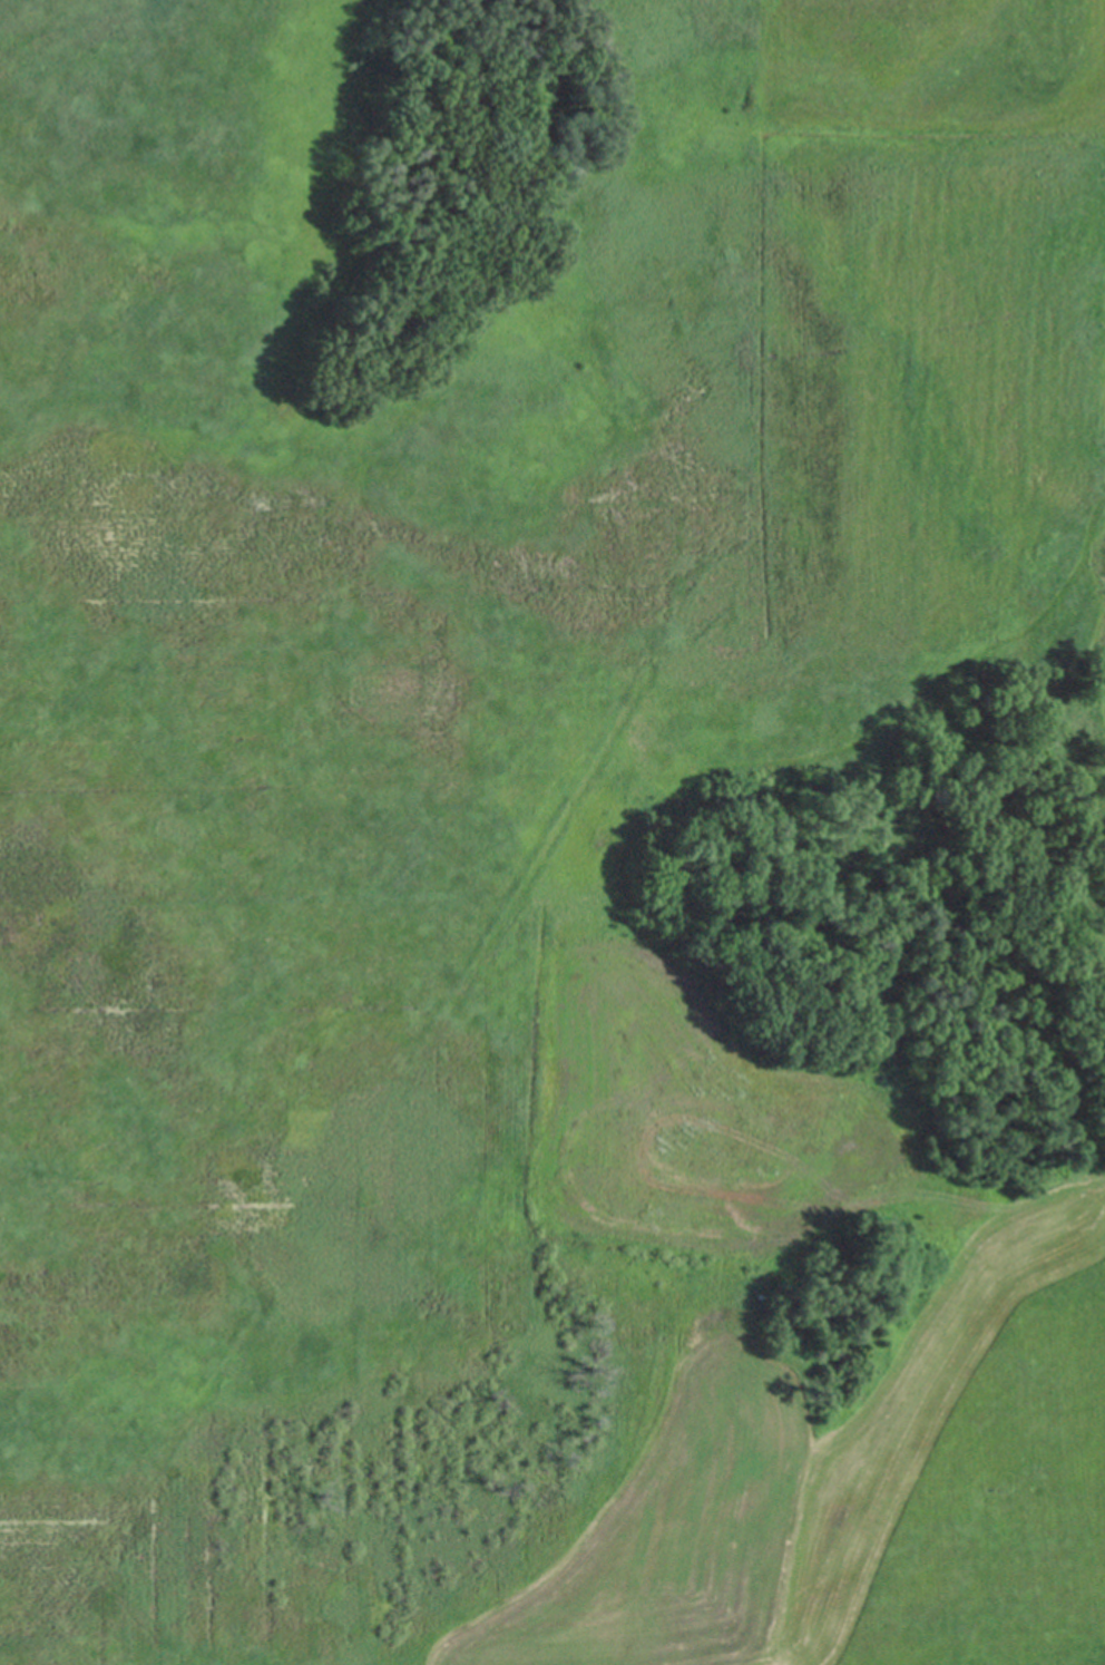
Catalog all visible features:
building: (1104, 497)

